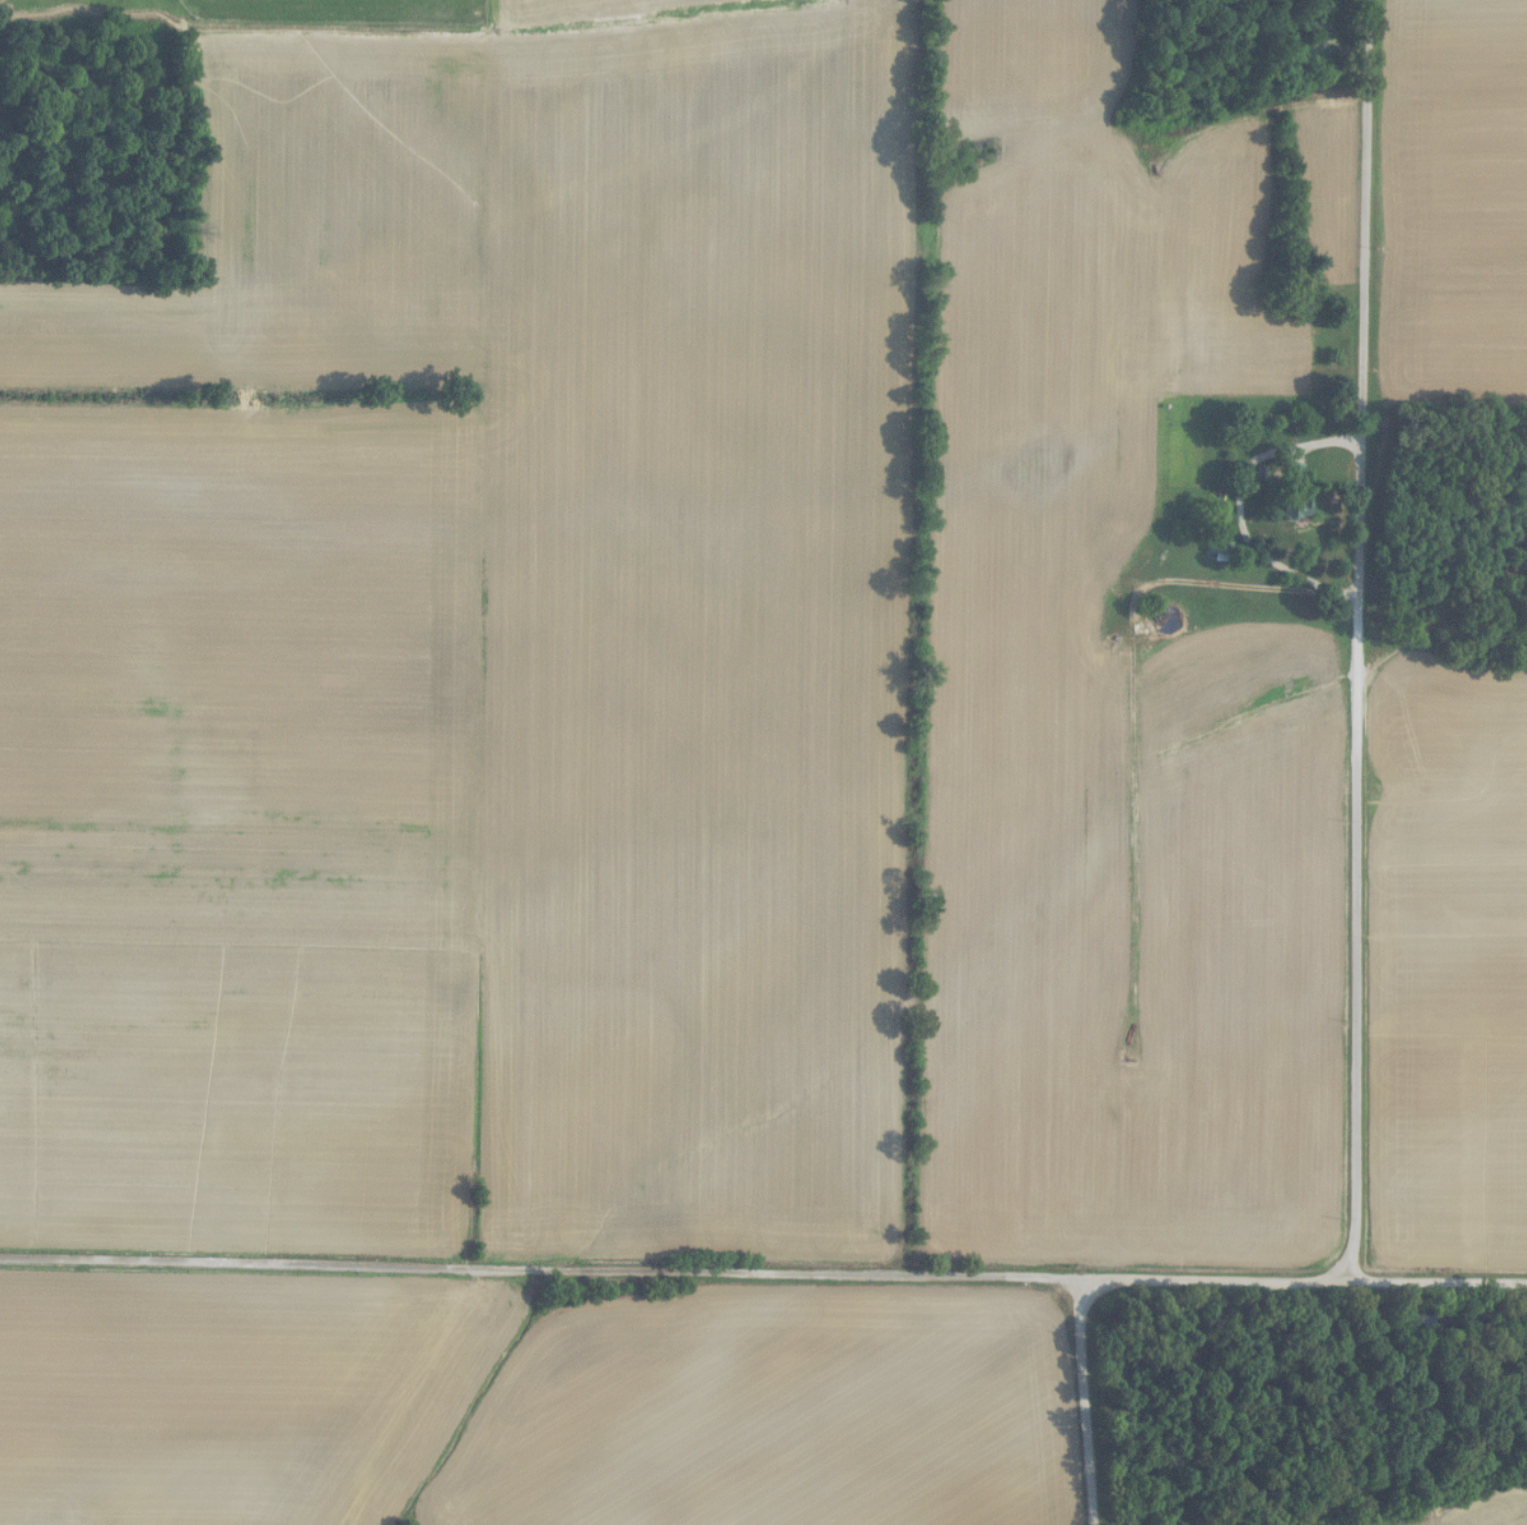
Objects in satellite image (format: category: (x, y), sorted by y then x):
road: (1240, 507)
road: (1359, 640)
road: (544, 1269)
road: (1308, 1280)
road: (1092, 1402)

